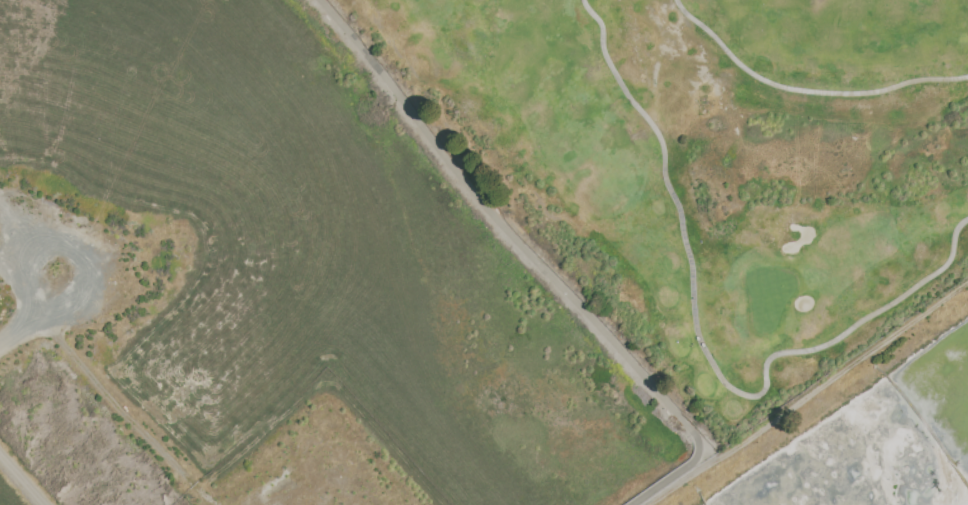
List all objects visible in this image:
road: (806, 90)
park: (709, 168)
road: (535, 261)
airport: (268, 286)
road: (38, 311)
road: (703, 345)
road: (809, 398)
road: (23, 478)

